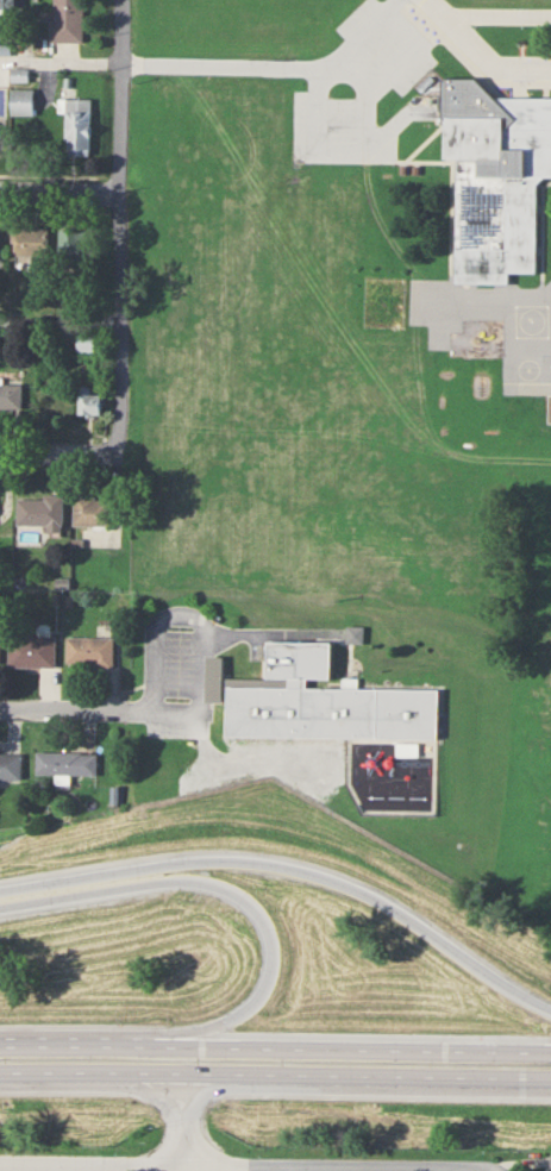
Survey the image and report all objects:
building: (10, 4)
road: (433, 6)
building: (67, 20)
road: (447, 20)
road: (61, 57)
road: (273, 67)
parking lot: (353, 88)
building: (23, 102)
building: (77, 126)
building: (494, 176)
road: (60, 190)
road: (119, 224)
building: (32, 240)
building: (75, 249)
road: (60, 318)
building: (10, 394)
building: (89, 401)
road: (58, 449)
building: (90, 509)
building: (39, 511)
building: (31, 650)
building: (88, 651)
building: (299, 659)
building: (214, 677)
road: (125, 703)
building: (332, 710)
building: (65, 762)
building: (11, 765)
road: (293, 868)
road: (259, 916)
road: (275, 1046)
road: (275, 1071)
road: (223, 1085)
road: (137, 1087)
road: (181, 1146)
building: (550, 1161)
road: (89, 1165)
road: (337, 1166)
road: (76, 1167)
road: (283, 1167)

